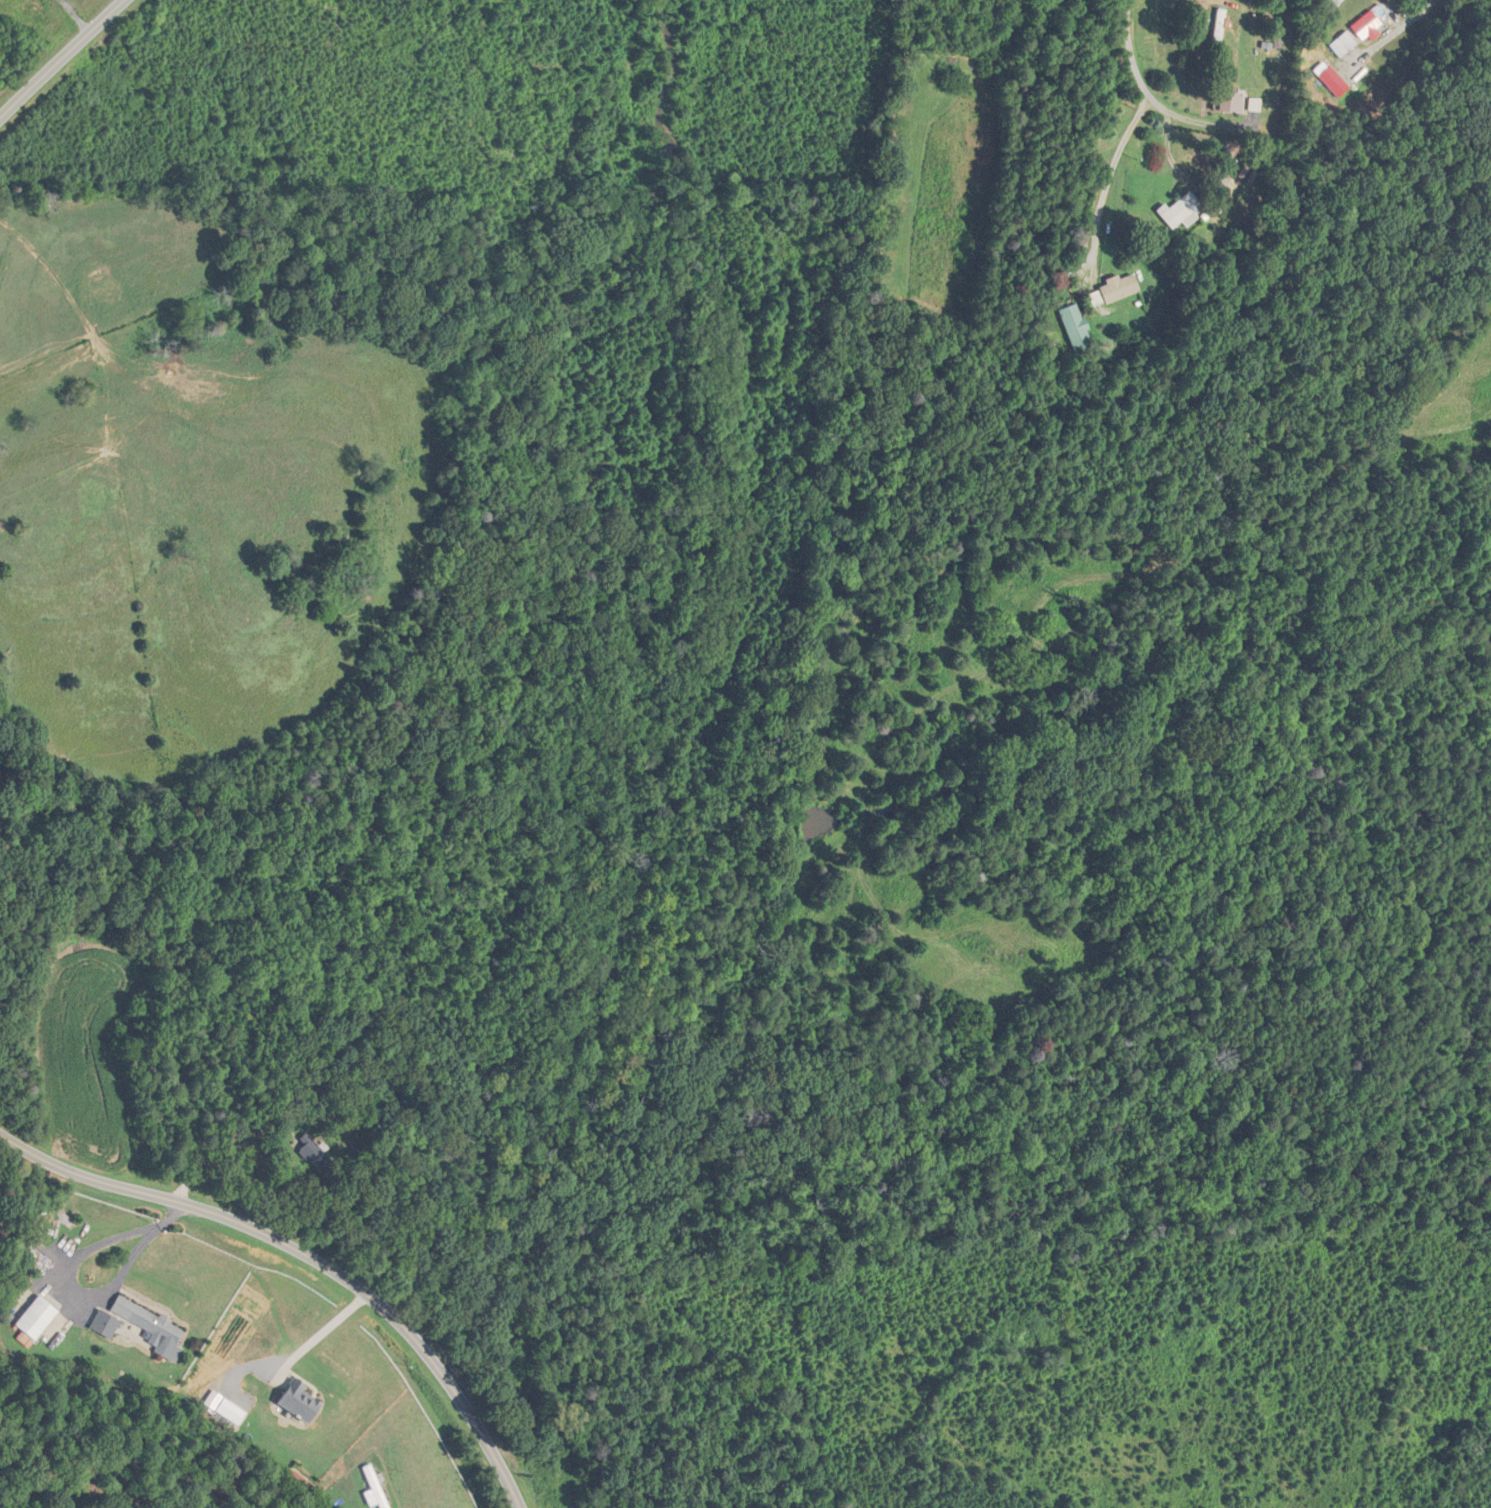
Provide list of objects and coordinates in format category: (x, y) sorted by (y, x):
building: (1333, 2)
building: (1365, 25)
road: (1398, 27)
building: (1218, 29)
building: (1340, 42)
road: (61, 59)
road: (1132, 73)
building: (1227, 101)
road: (1102, 181)
building: (1179, 210)
building: (1111, 290)
building: (1073, 329)
building: (311, 1151)
road: (309, 1255)
road: (69, 1267)
building: (38, 1319)
building: (106, 1323)
building: (154, 1327)
road: (321, 1332)
building: (295, 1402)
building: (378, 1486)

